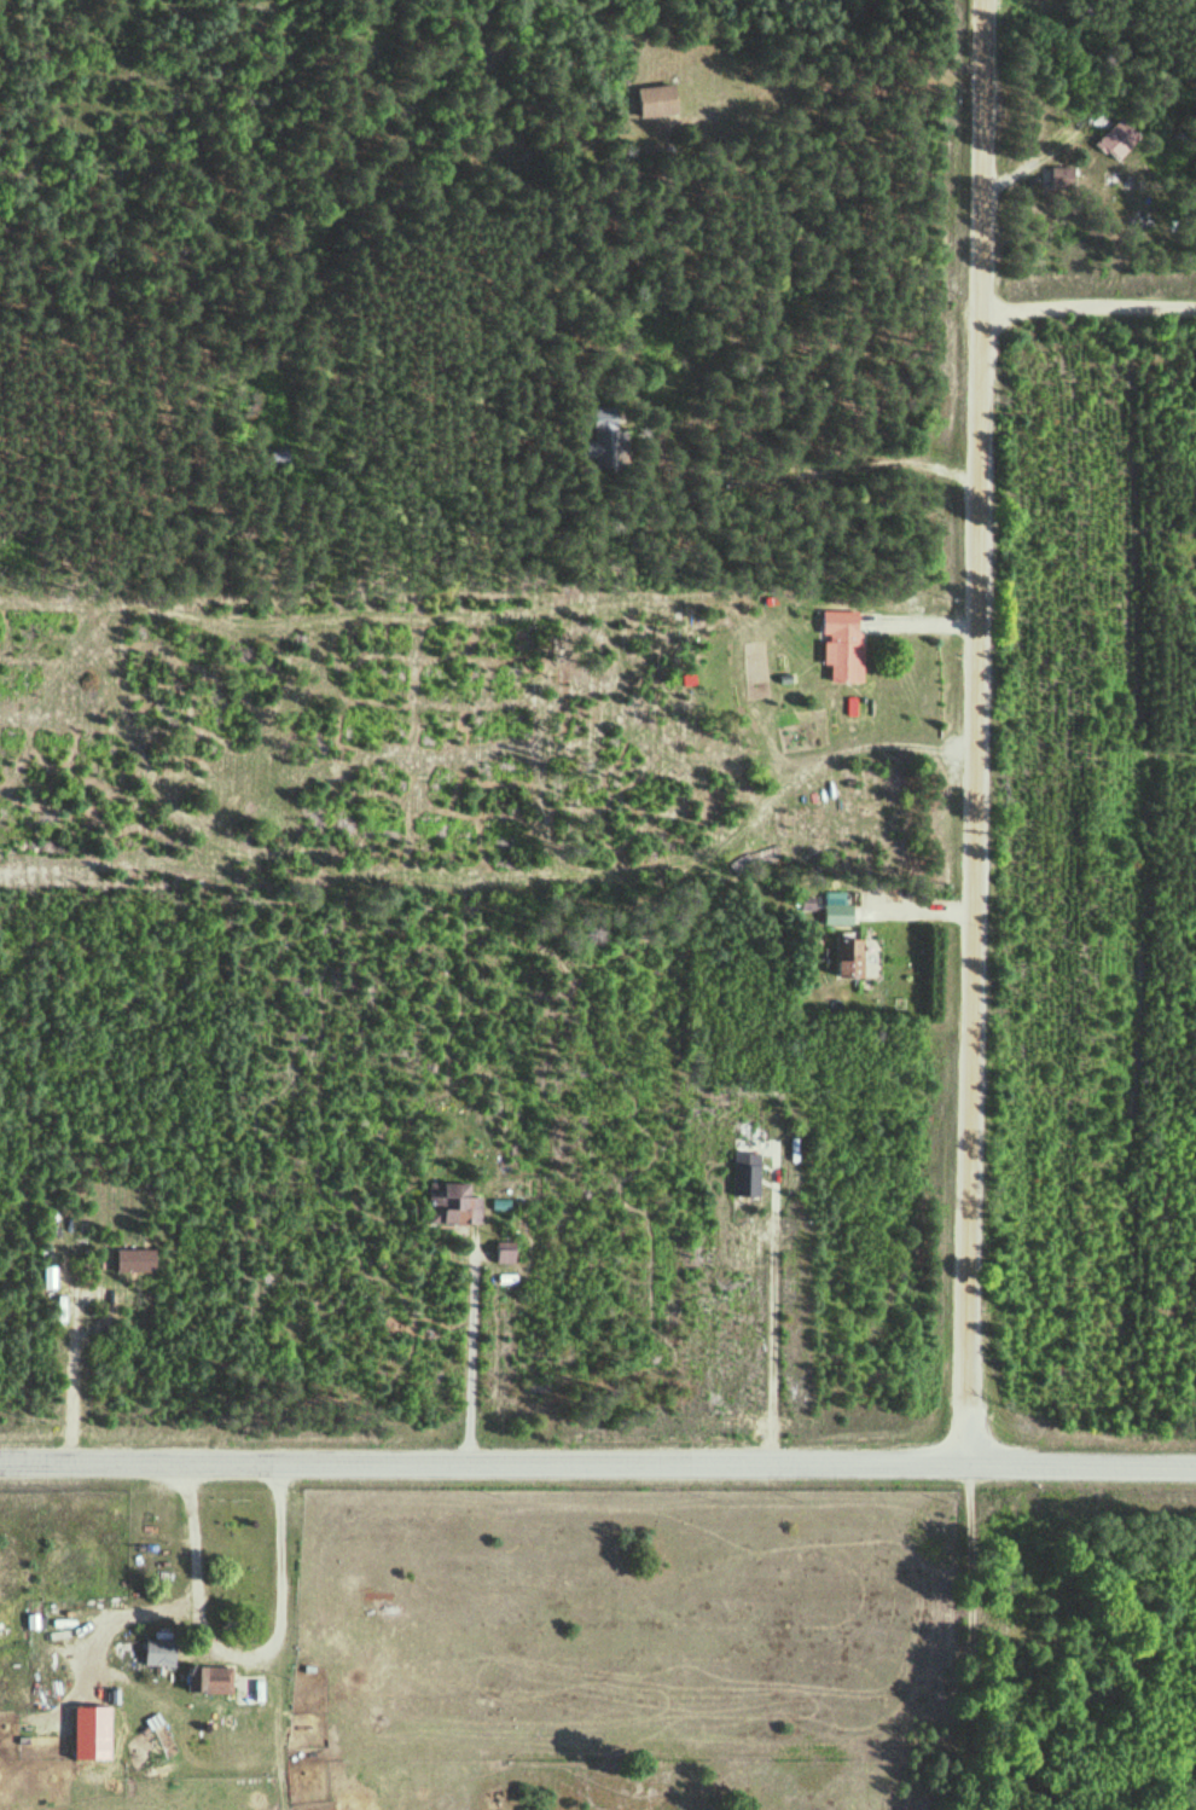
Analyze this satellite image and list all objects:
building: (654, 99)
building: (1114, 139)
building: (1058, 179)
road: (1086, 311)
building: (606, 439)
building: (279, 457)
building: (838, 644)
road: (973, 733)
building: (835, 909)
building: (843, 957)
building: (448, 1202)
road: (598, 1466)
road: (965, 1638)
building: (155, 1652)
building: (205, 1678)

